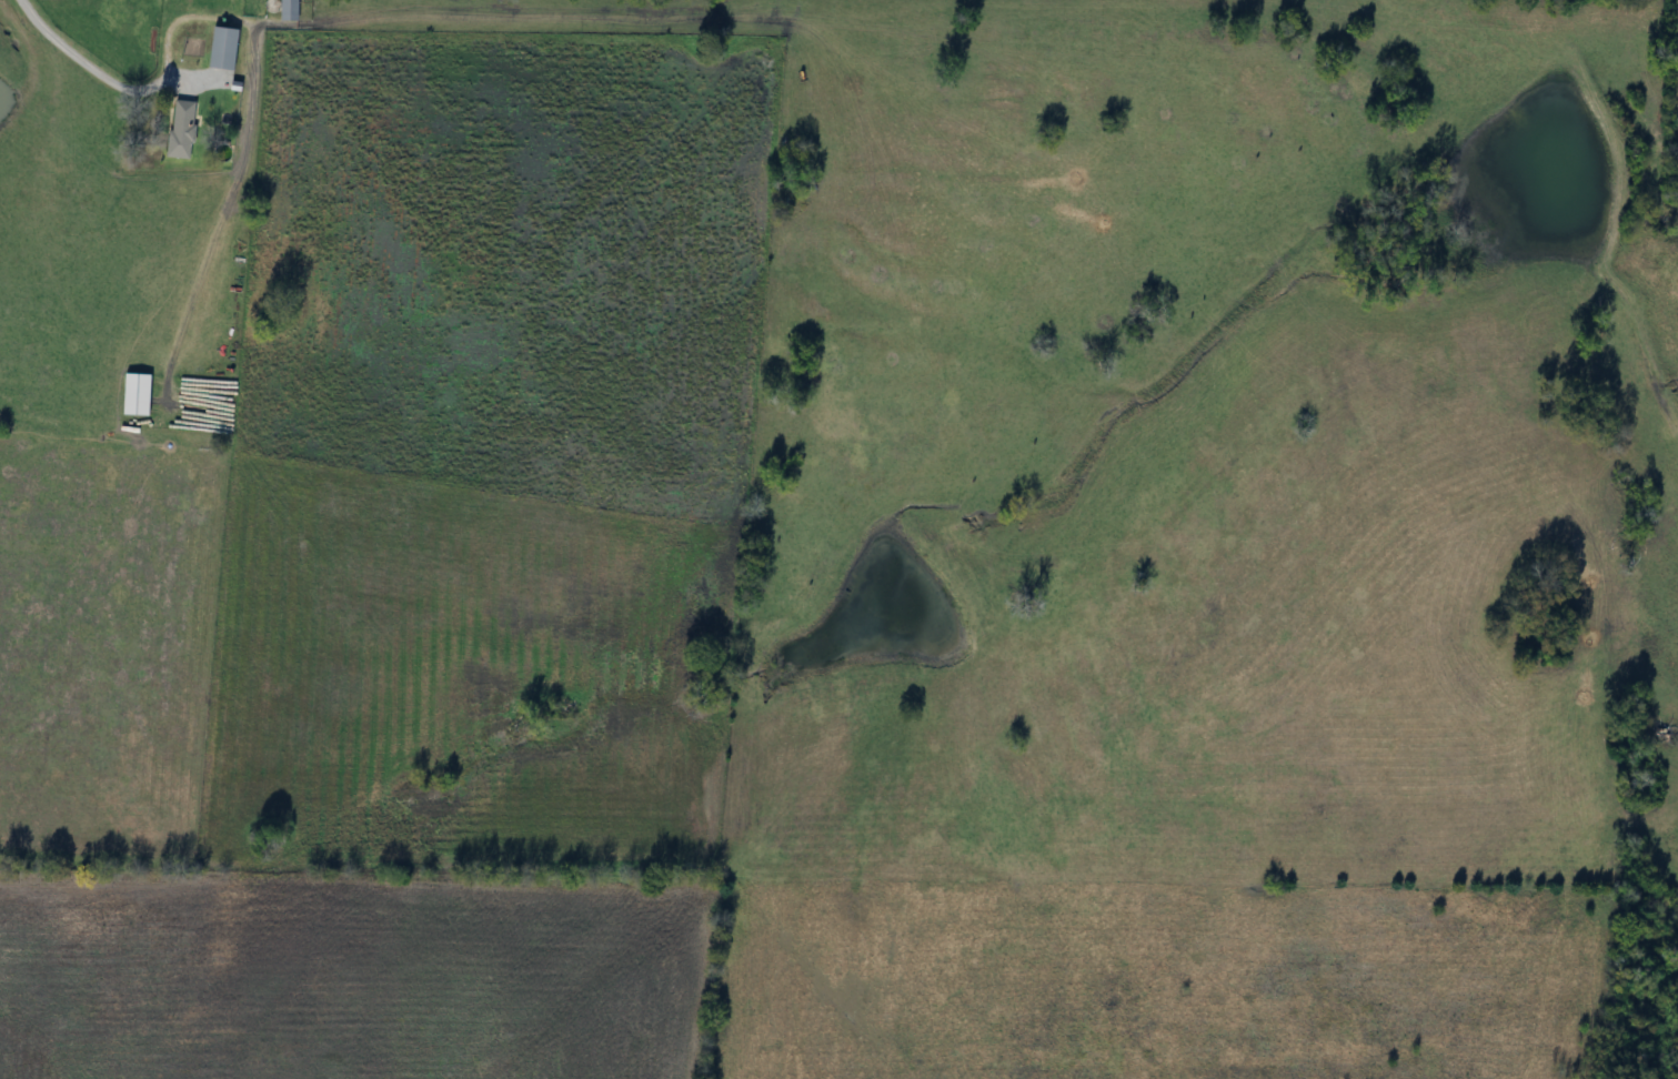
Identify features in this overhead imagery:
road: (89, 61)
building: (183, 130)
building: (139, 395)

